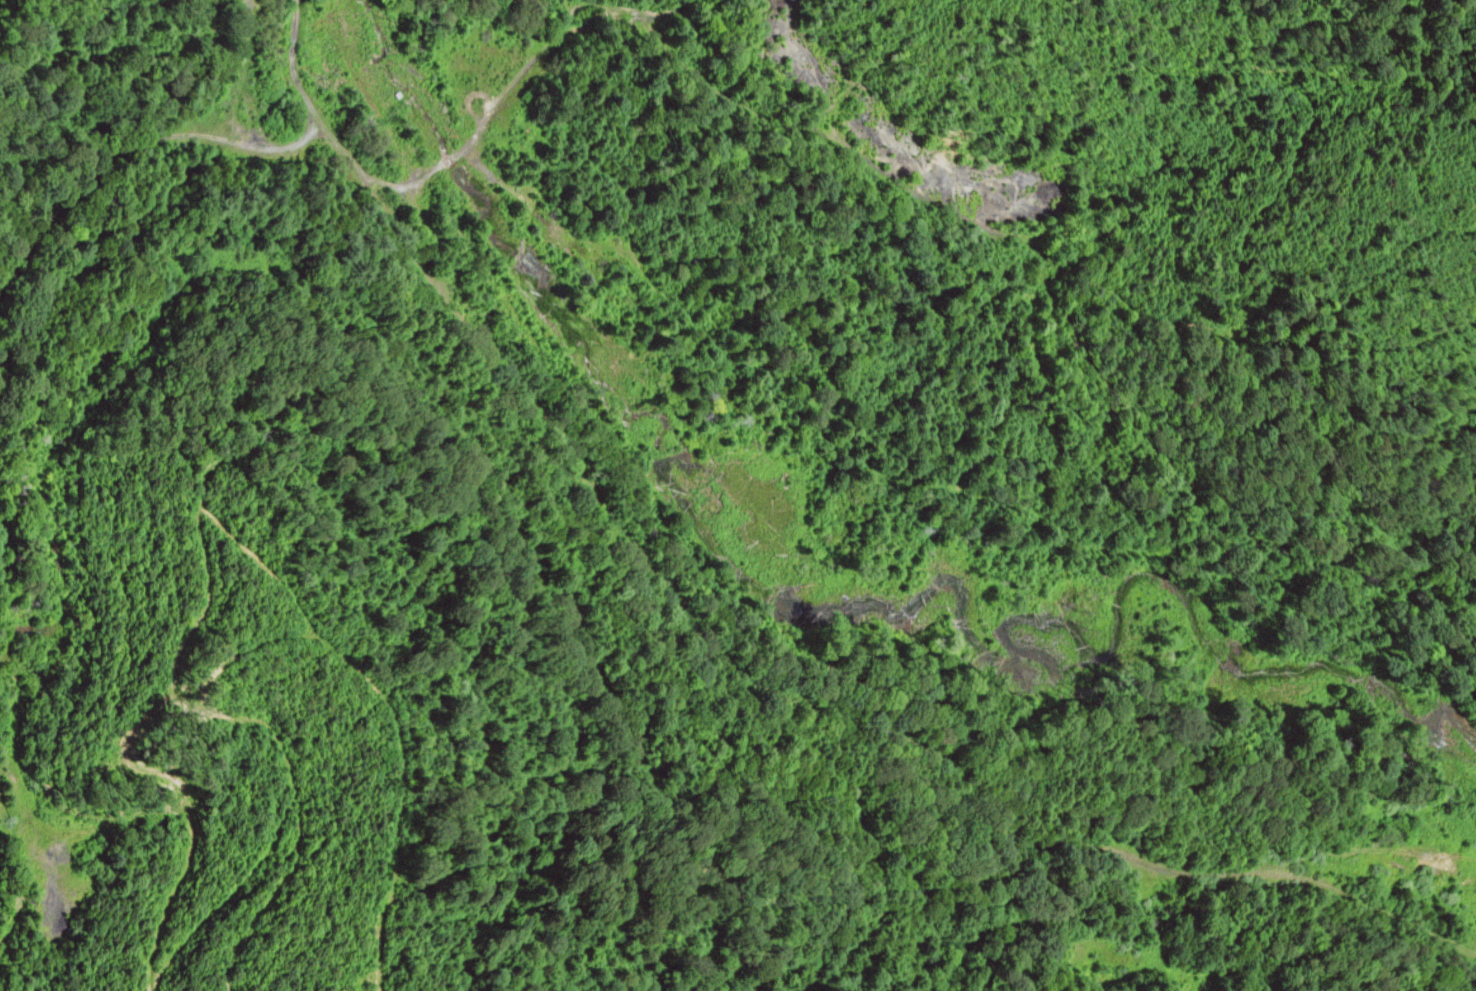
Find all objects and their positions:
road: (1, 1)
road: (191, 149)
road: (2, 914)

